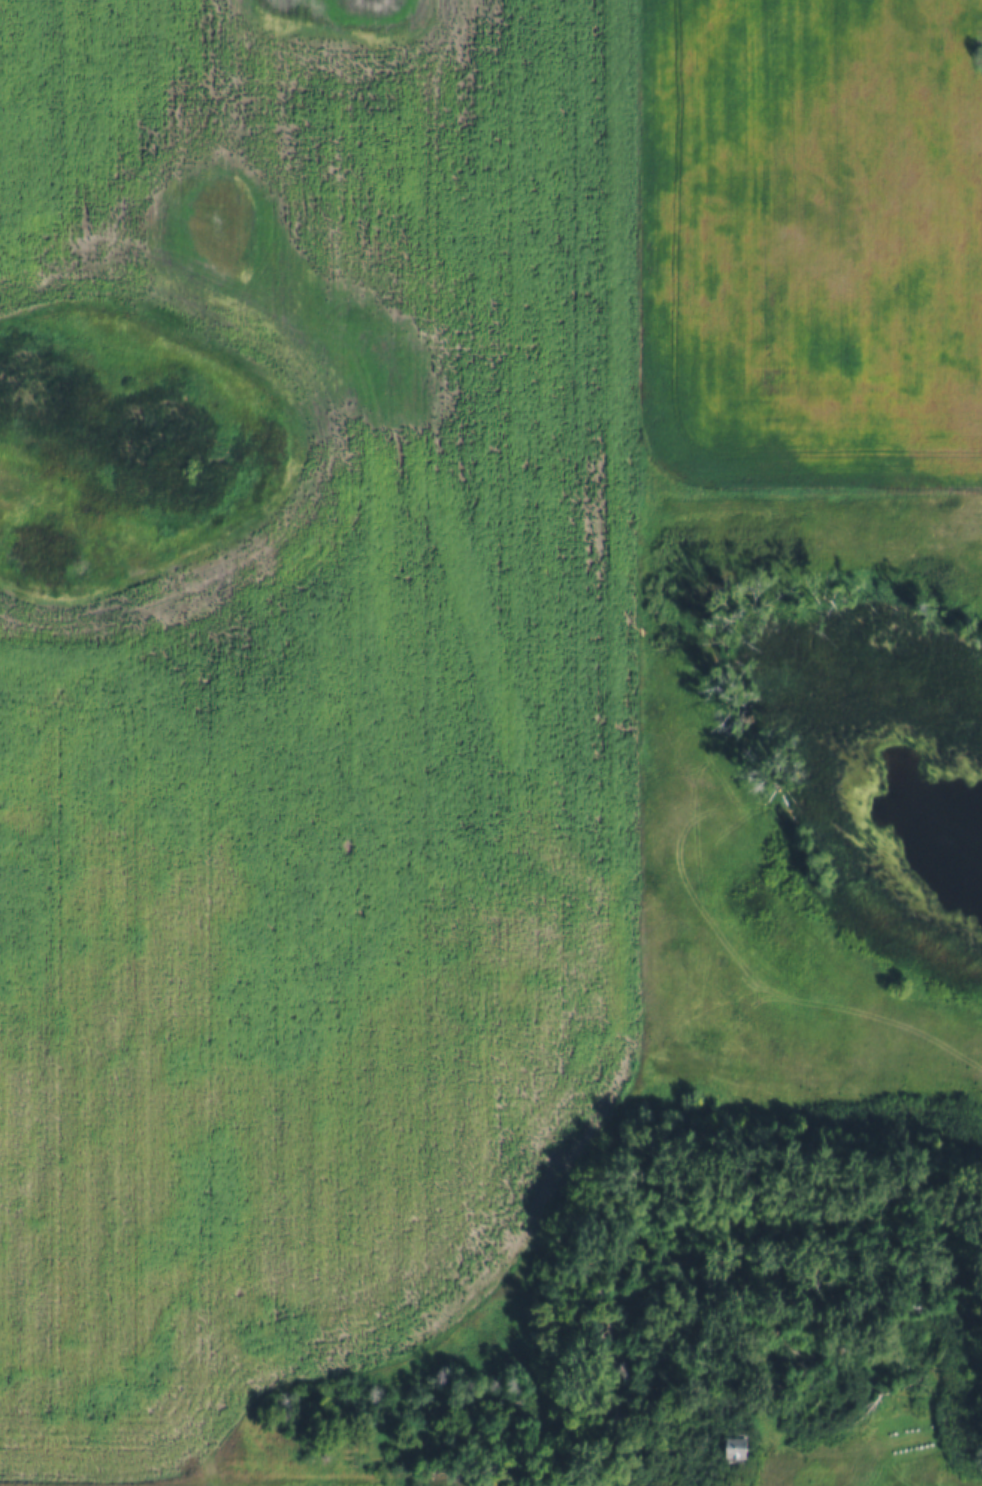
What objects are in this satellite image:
building: (908, 1306)
building: (732, 1444)

